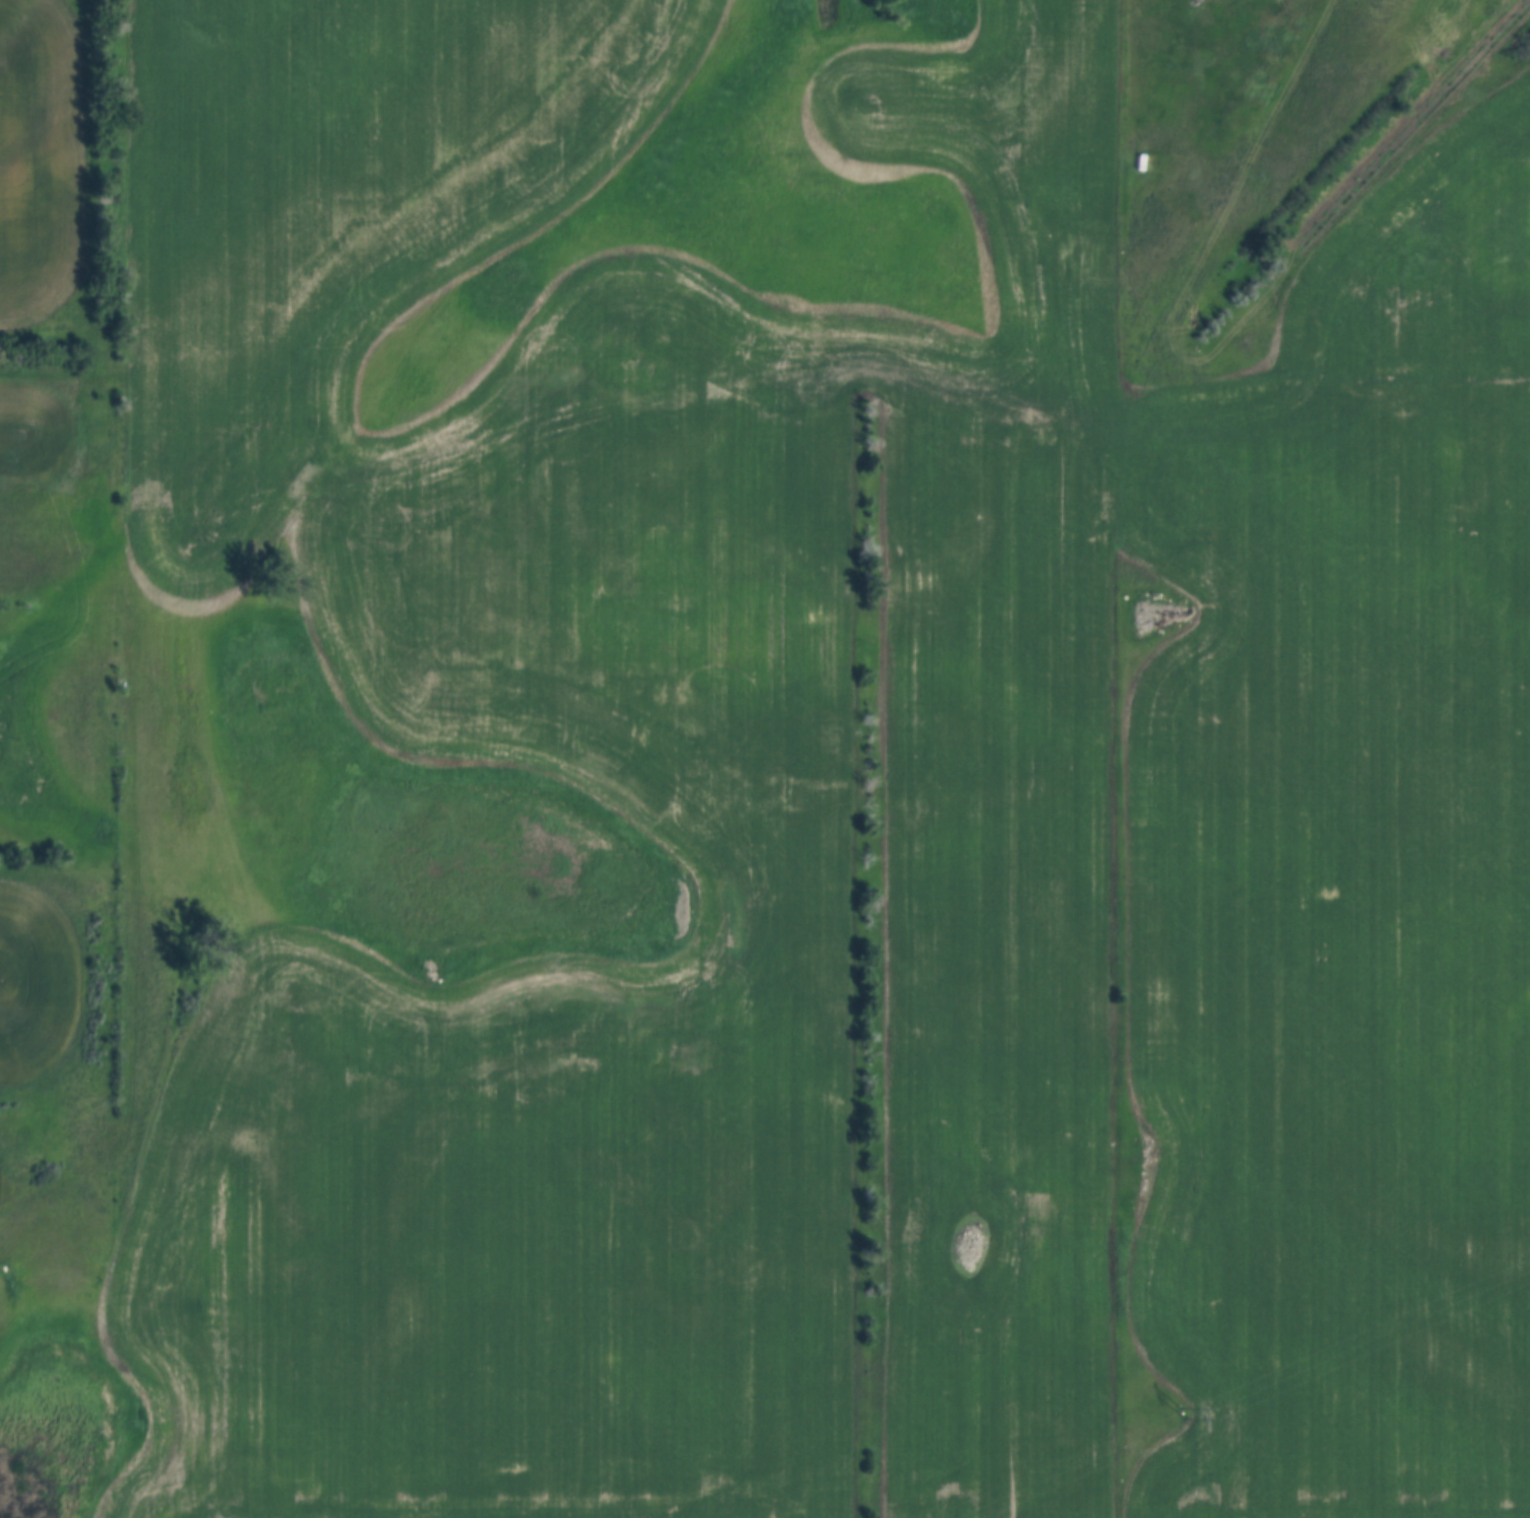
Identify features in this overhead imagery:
power tower: (1183, 1413)

